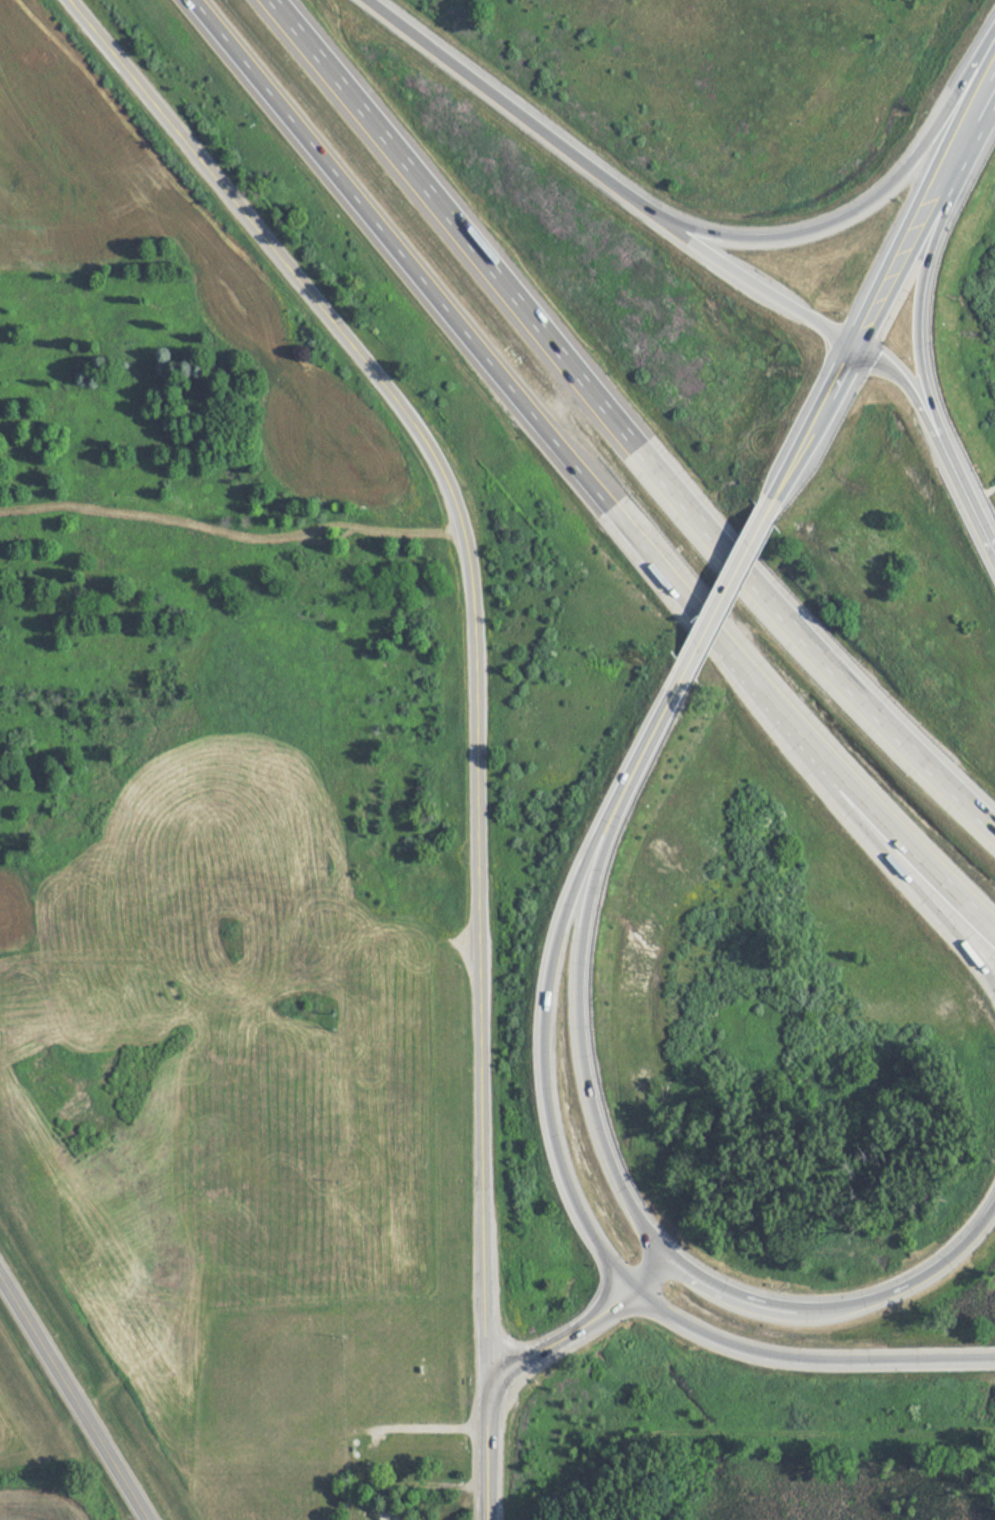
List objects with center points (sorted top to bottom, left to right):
road: (983, 47)
road: (502, 100)
road: (169, 118)
road: (970, 131)
road: (833, 214)
road: (901, 259)
road: (743, 269)
road: (918, 321)
road: (913, 392)
road: (810, 426)
road: (622, 431)
road: (562, 446)
road: (973, 505)
road: (724, 590)
road: (661, 712)
road: (477, 775)
road: (883, 847)
road: (970, 898)
road: (577, 1011)
road: (543, 1024)
road: (662, 1258)
road: (645, 1276)
road: (845, 1301)
road: (757, 1307)
road: (562, 1336)
road: (806, 1354)
road: (74, 1398)
road: (486, 1448)

